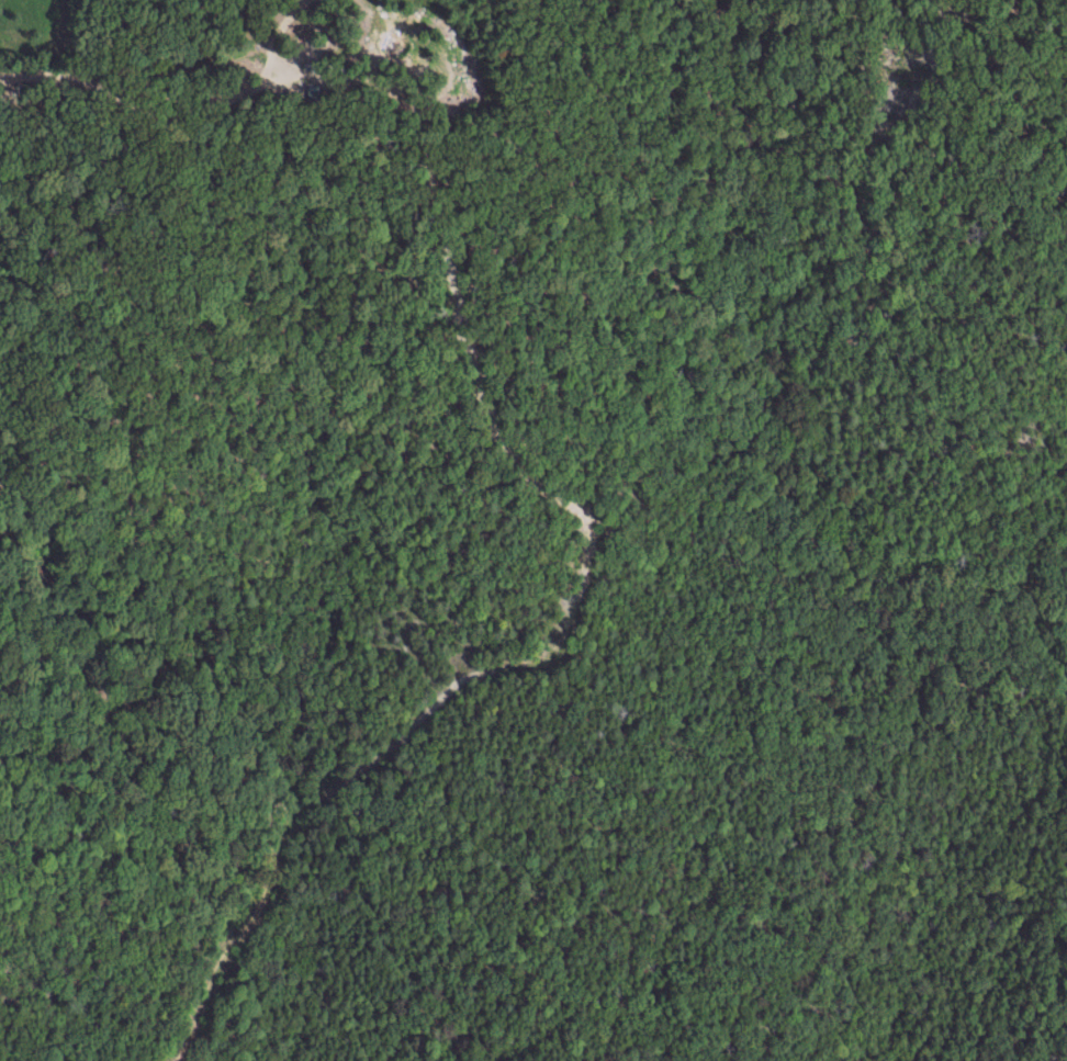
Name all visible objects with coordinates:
road: (172, 109)

